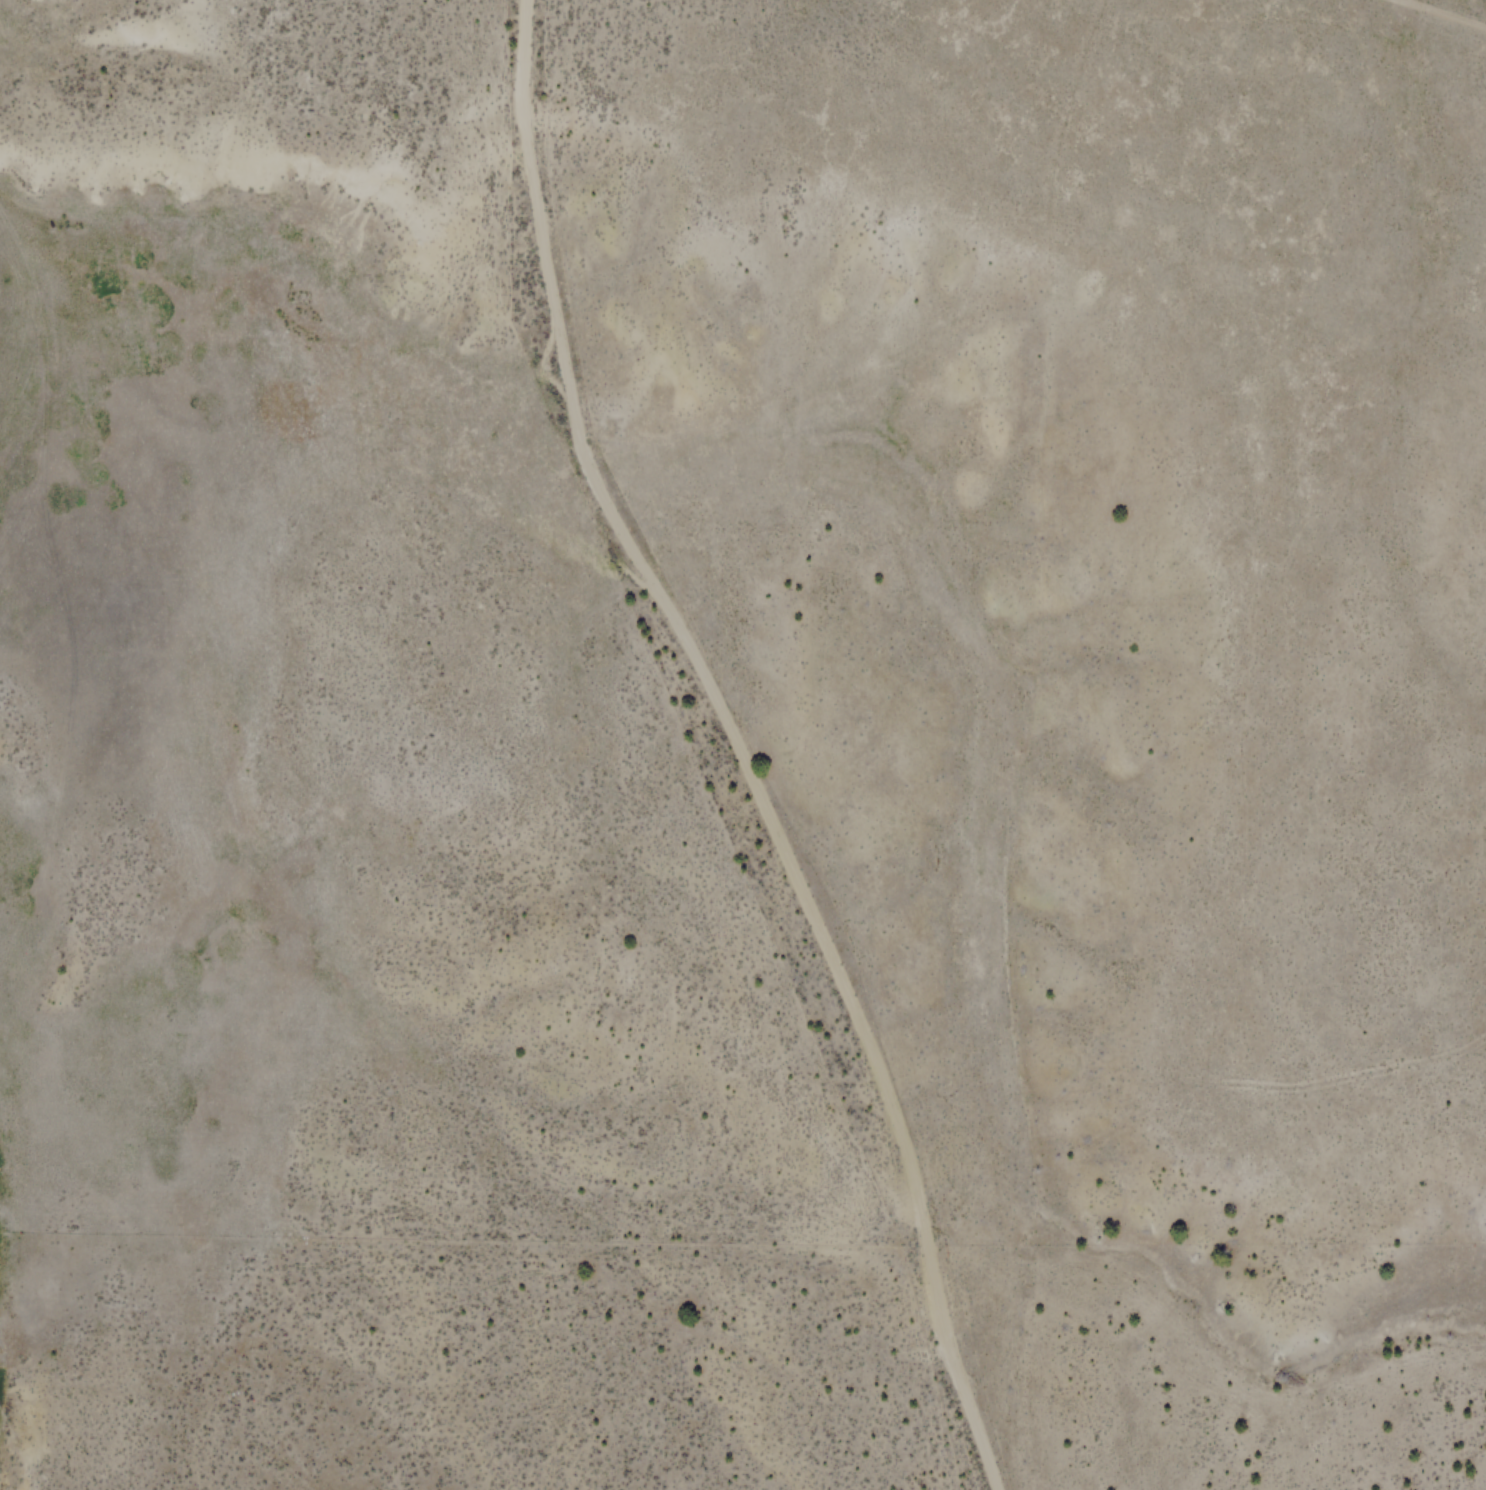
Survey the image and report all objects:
road: (1455, 11)
road: (734, 746)

